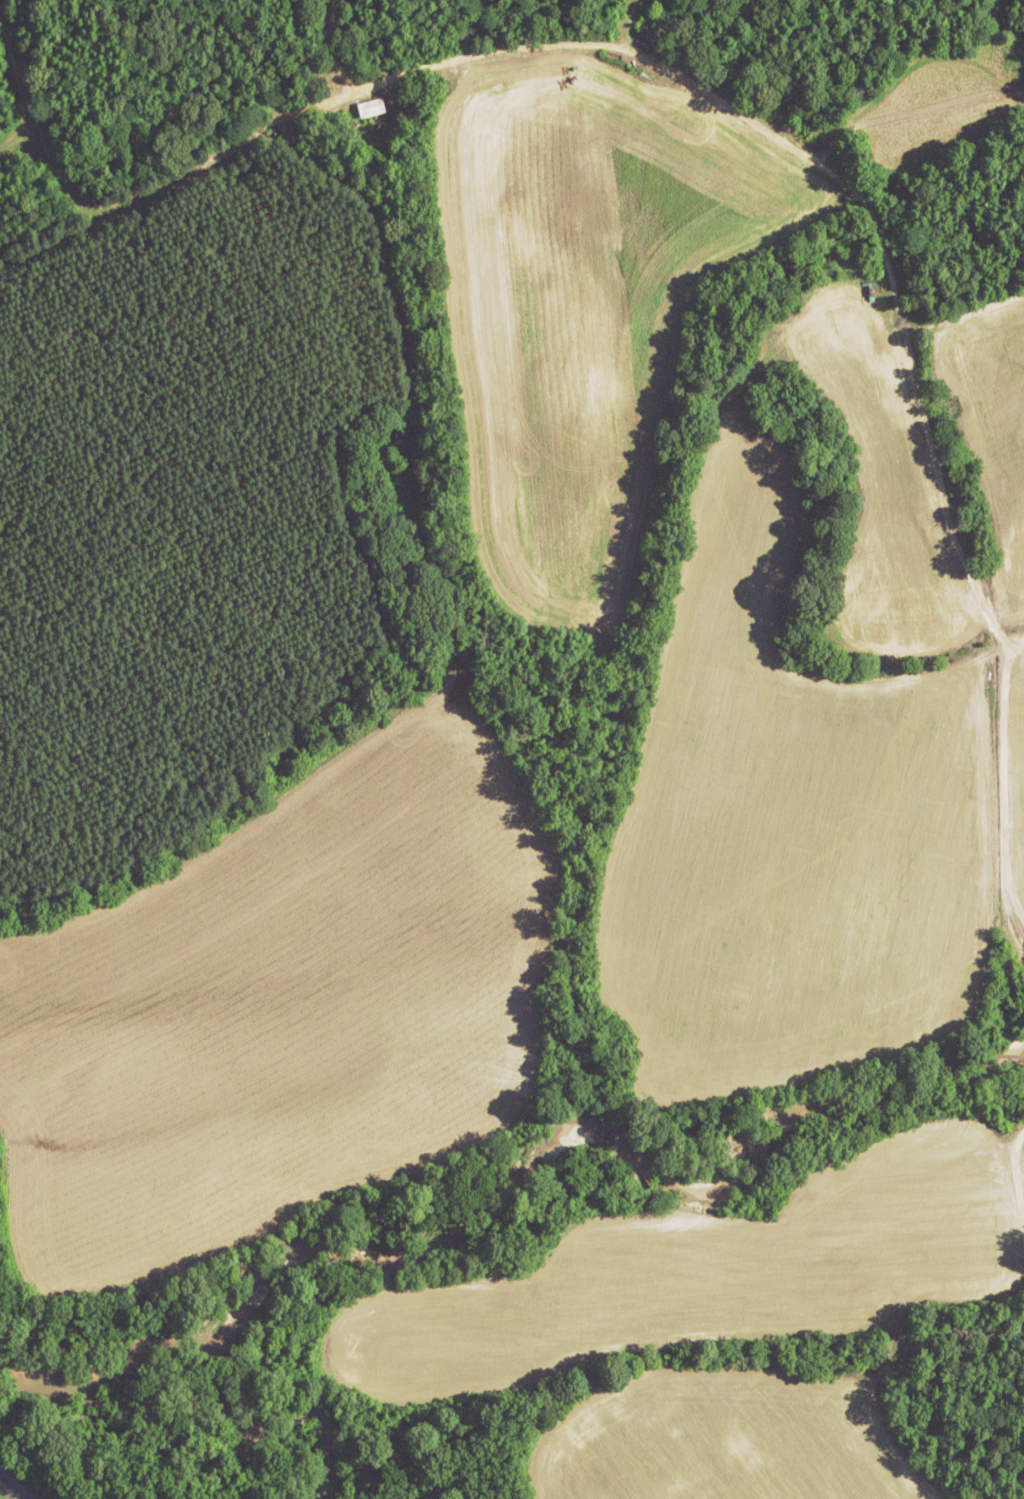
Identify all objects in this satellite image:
building: (369, 108)
road: (904, 503)
railway: (14, 1487)

